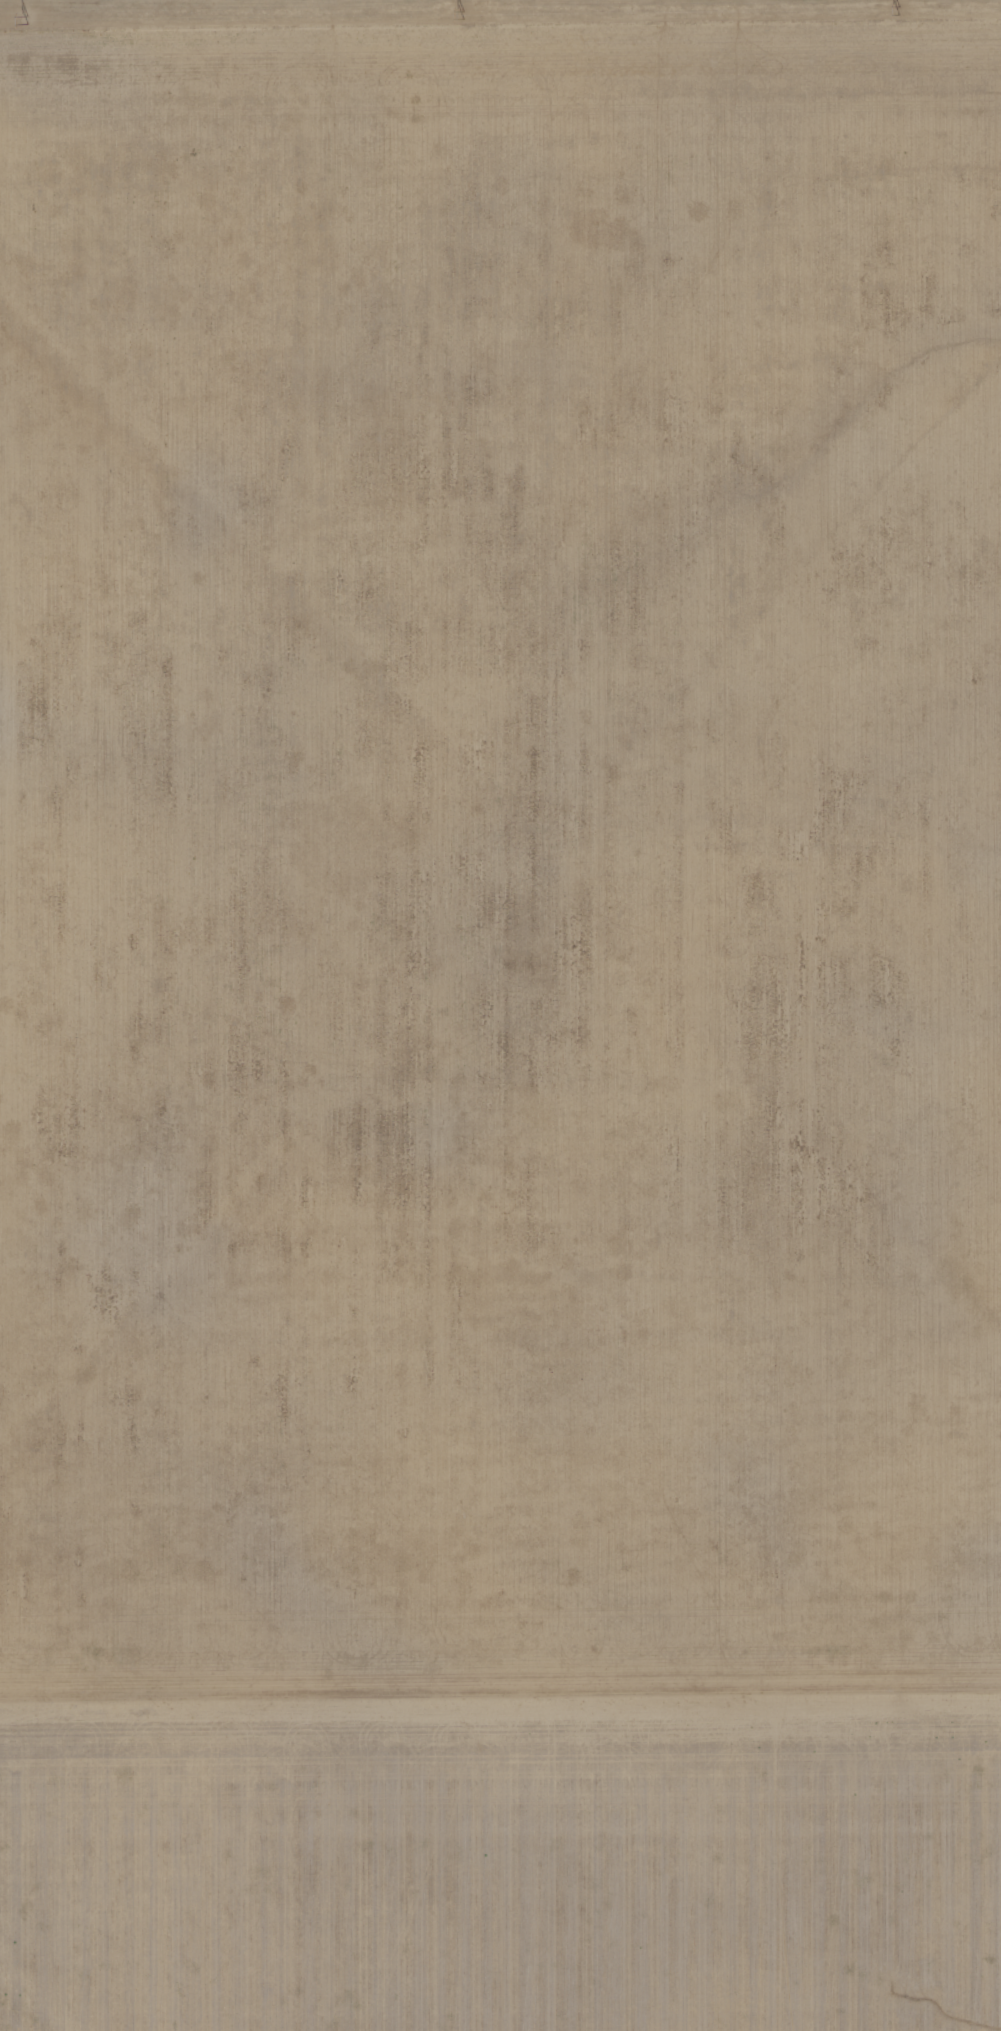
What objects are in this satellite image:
power tower: (897, 12)
power tower: (461, 14)
power tower: (26, 19)

